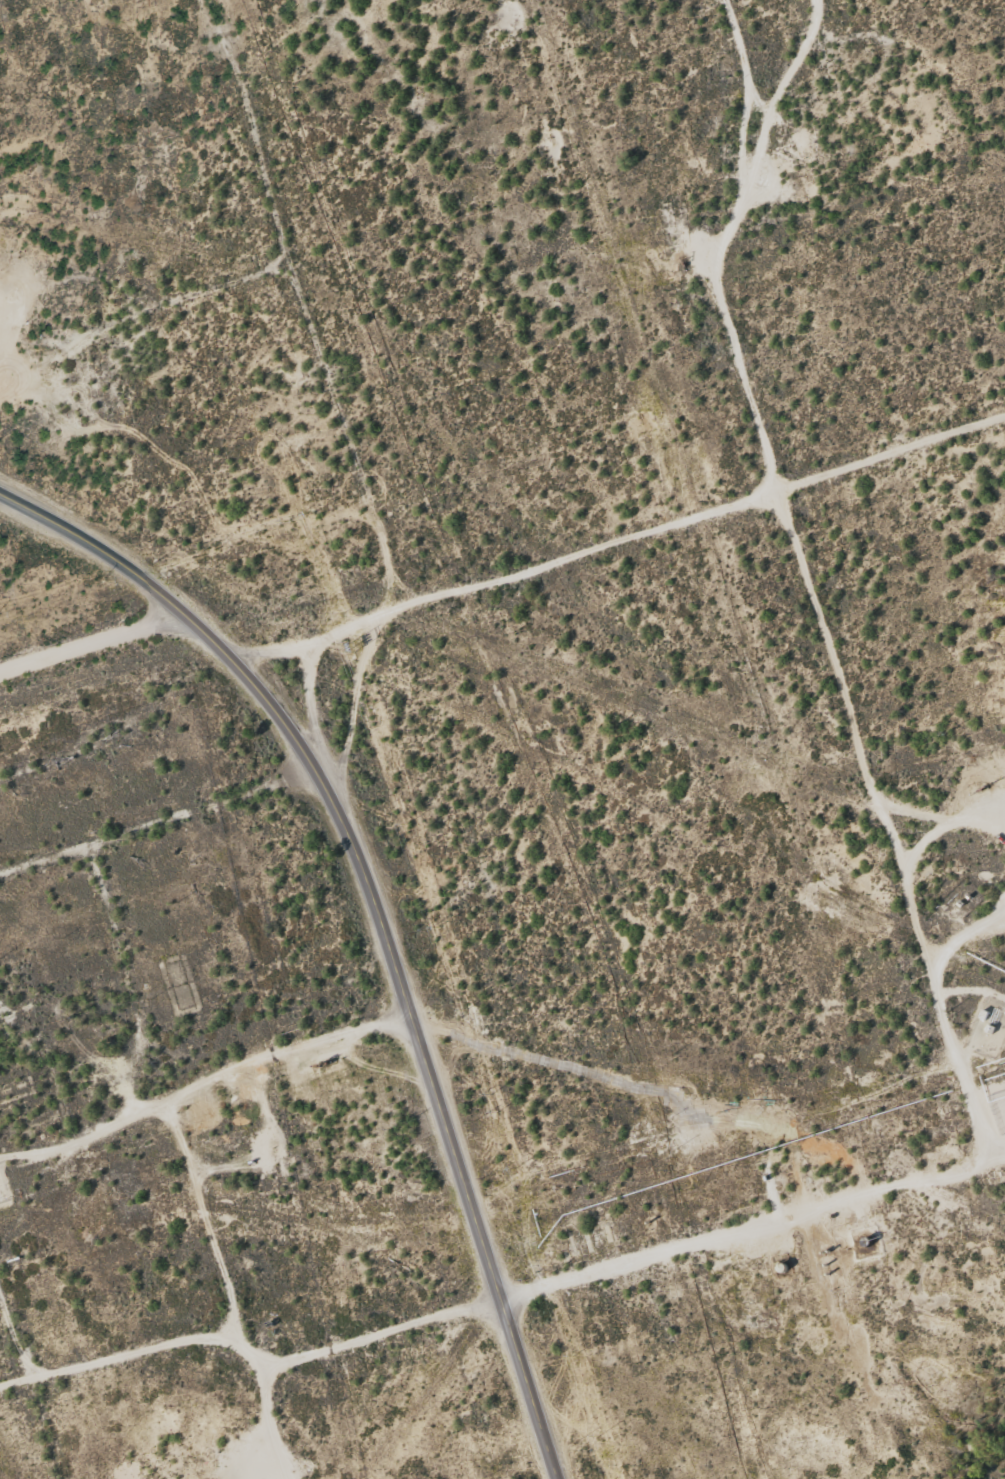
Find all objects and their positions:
road: (141, 318)
road: (339, 394)
road: (777, 513)
road: (618, 546)
road: (94, 643)
road: (957, 840)
road: (382, 915)
road: (967, 1037)
road: (210, 1180)
road: (632, 1266)

